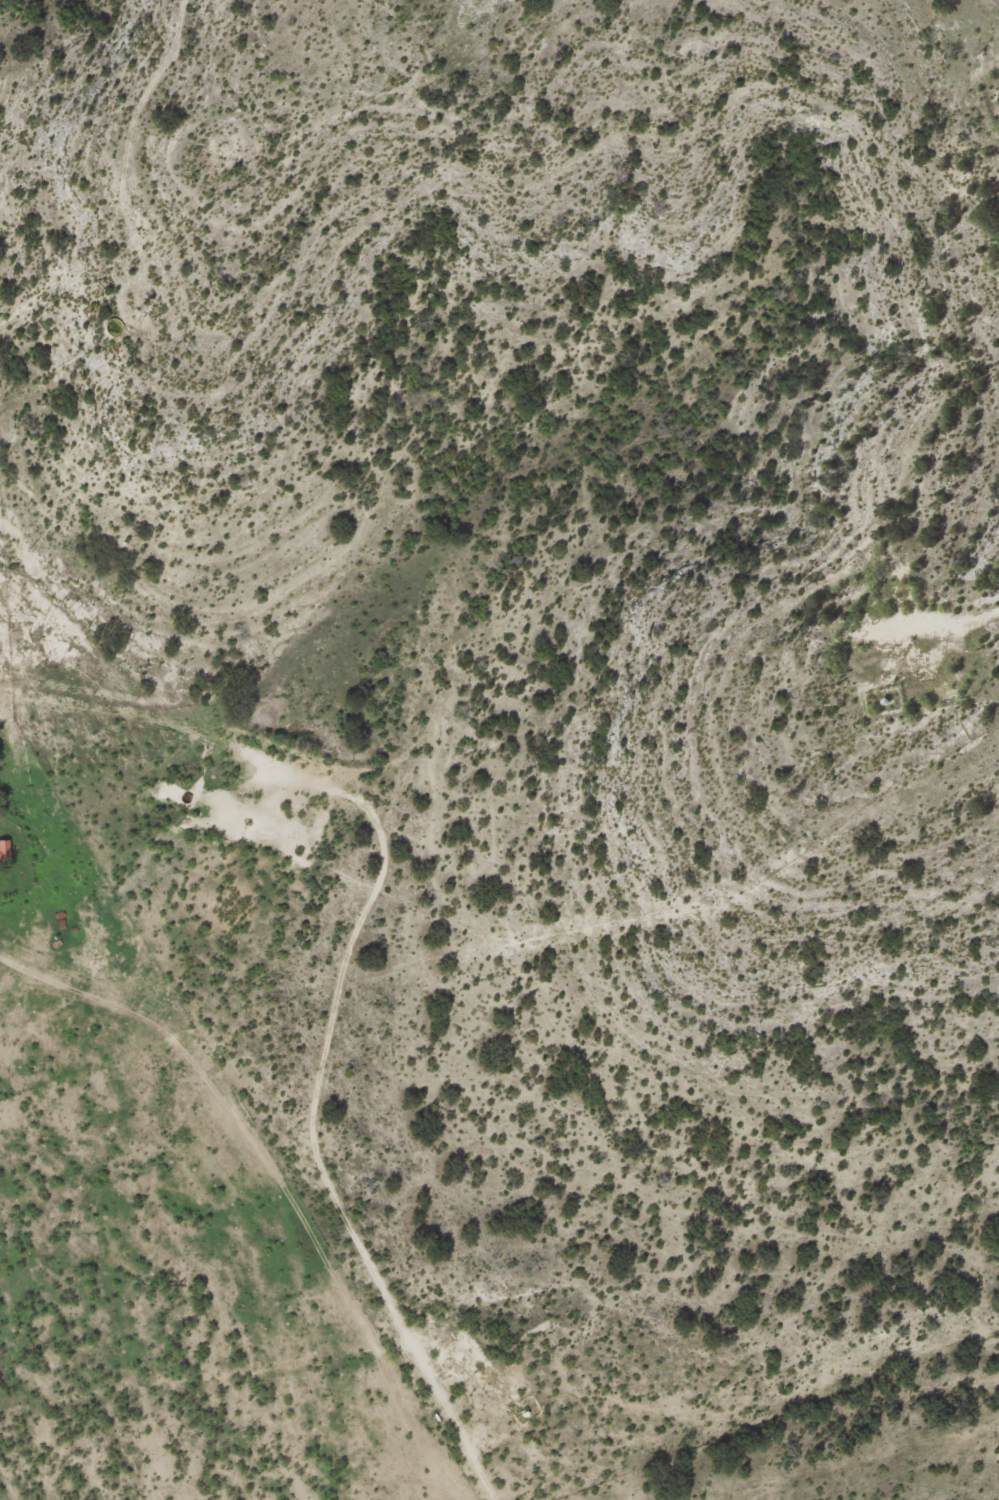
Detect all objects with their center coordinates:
road: (183, 58)
building: (4, 850)

